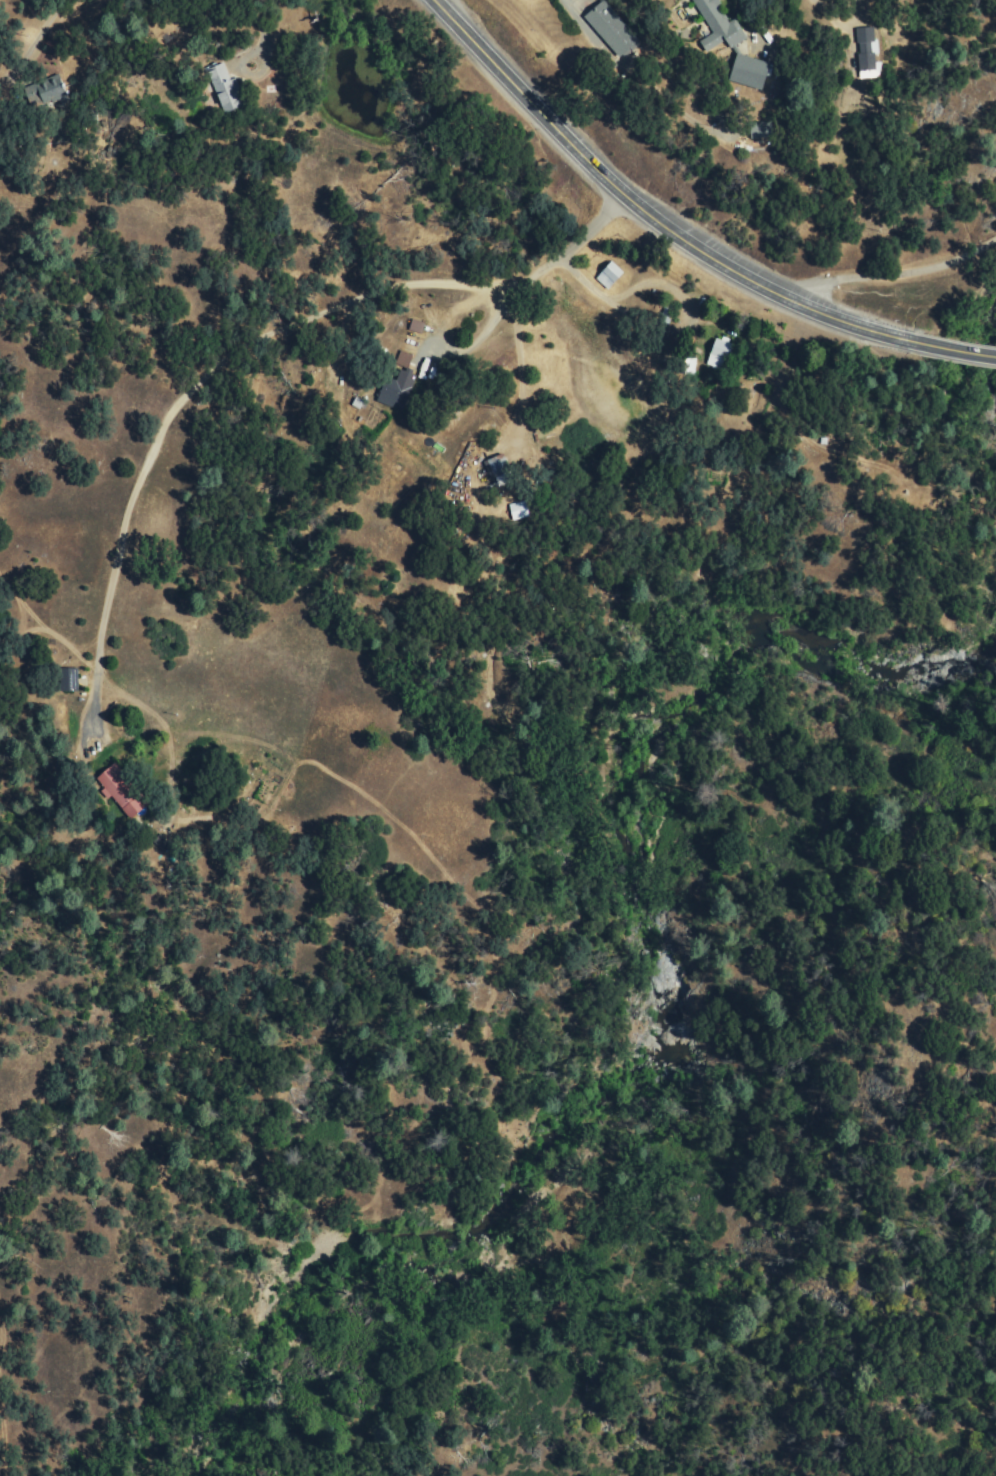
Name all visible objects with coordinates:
building: (713, 25)
building: (607, 27)
building: (866, 51)
building: (742, 69)
building: (51, 89)
building: (754, 128)
road: (678, 239)
building: (607, 273)
road: (887, 276)
building: (716, 352)
building: (401, 358)
building: (686, 365)
building: (390, 392)
road: (170, 426)
building: (495, 462)
building: (125, 791)
road: (48, 814)
road: (39, 936)

